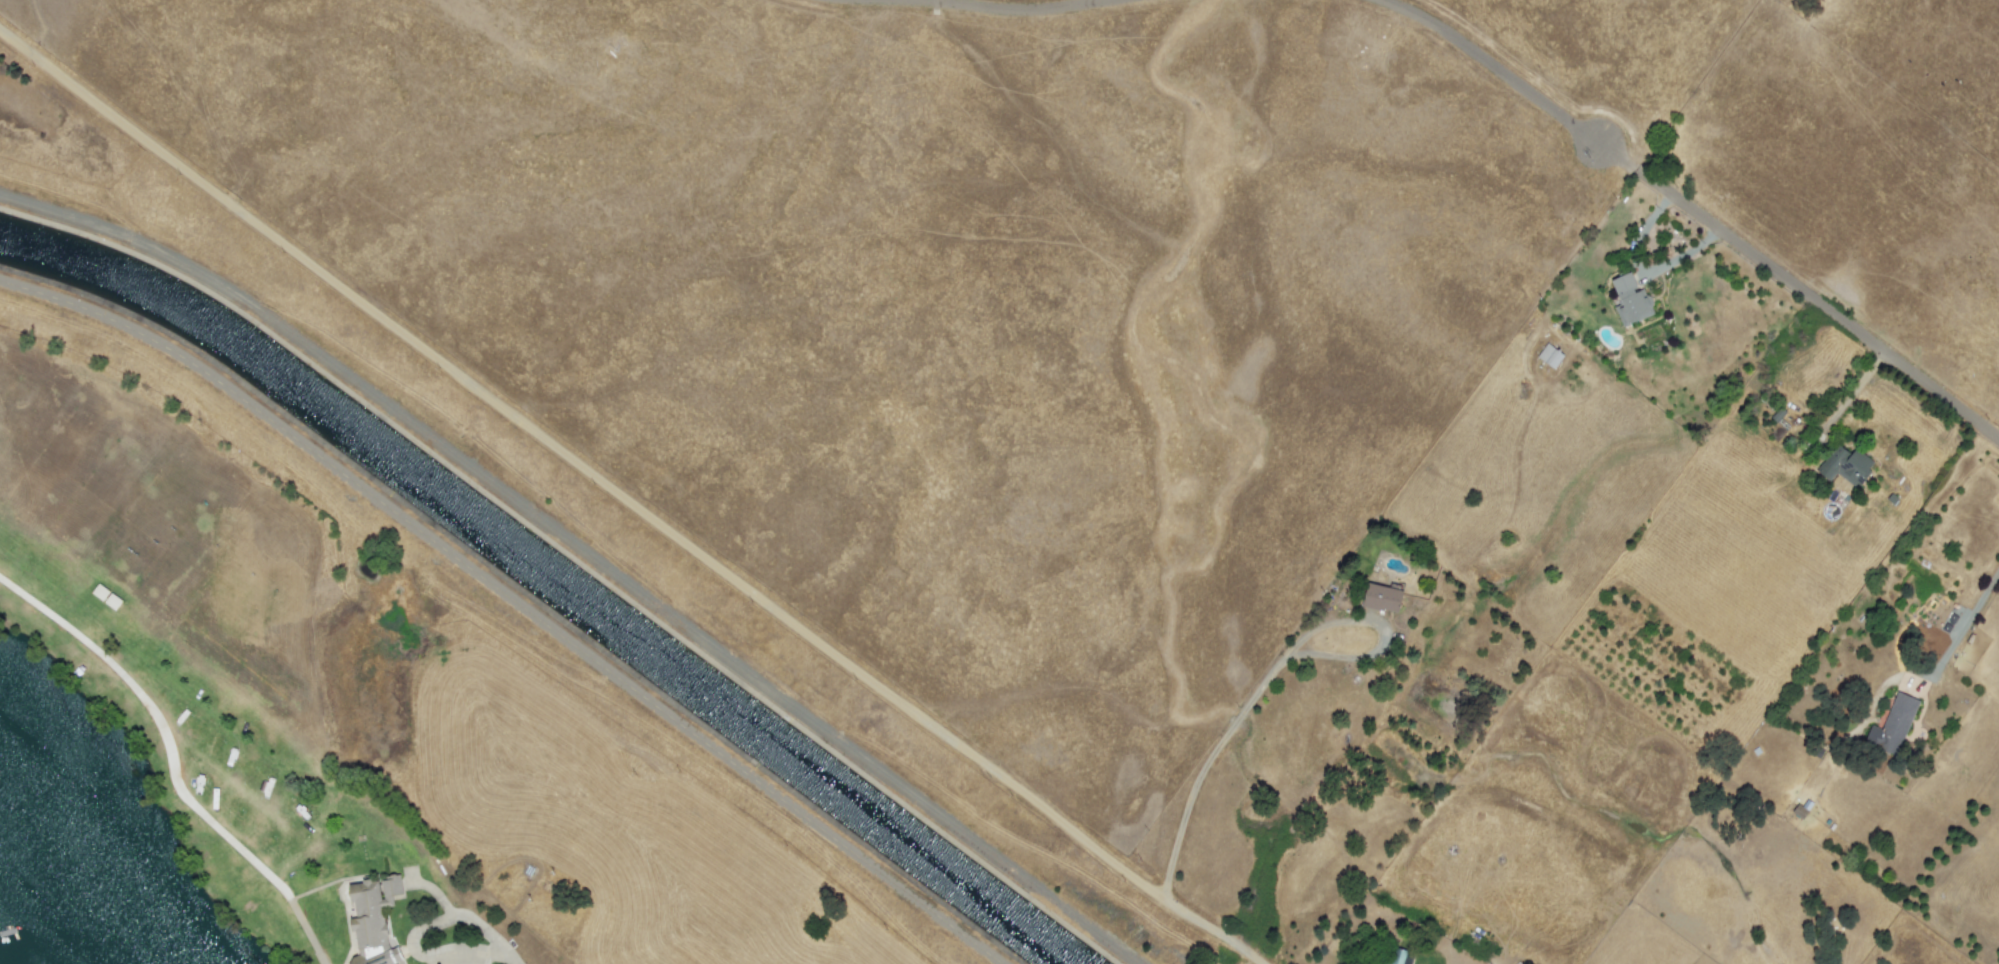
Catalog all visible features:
building: (1630, 300)
road: (1819, 301)
building: (1550, 356)
building: (1846, 466)
road: (626, 495)
building: (1382, 598)
road: (1962, 625)
road: (160, 722)
road: (1231, 723)
building: (1893, 725)
road: (436, 889)
building: (374, 920)
road: (309, 928)
road: (416, 937)
road: (512, 954)
building: (1394, 955)

